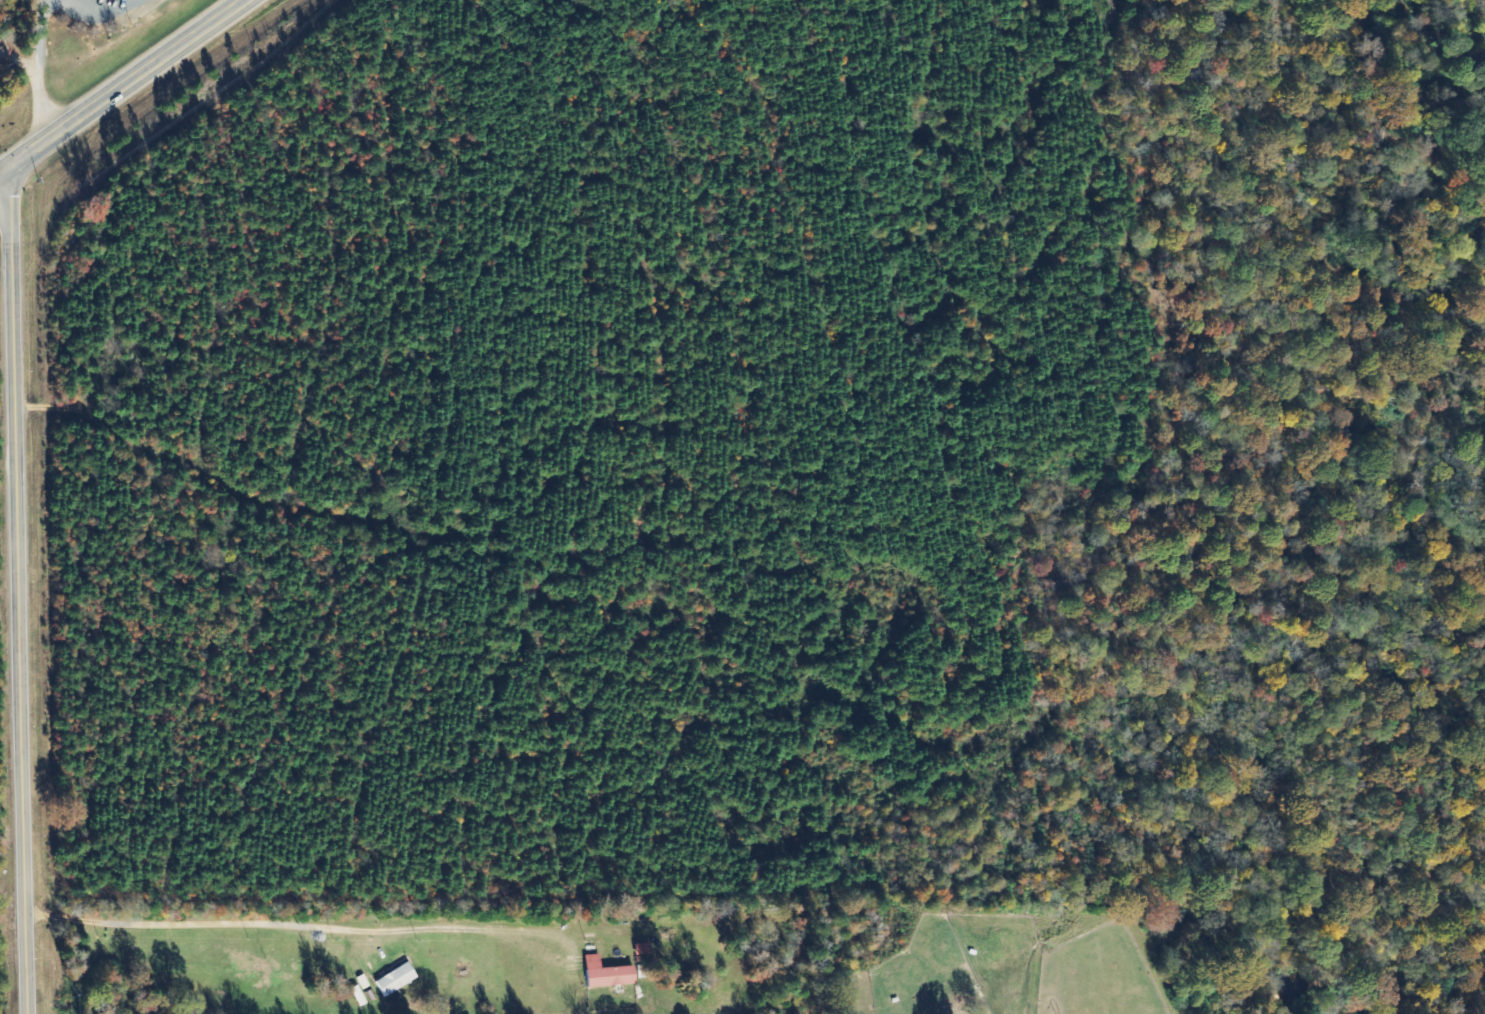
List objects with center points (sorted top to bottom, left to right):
road: (34, 83)
road: (117, 83)
road: (15, 599)
building: (638, 949)
building: (601, 973)
building: (391, 979)

